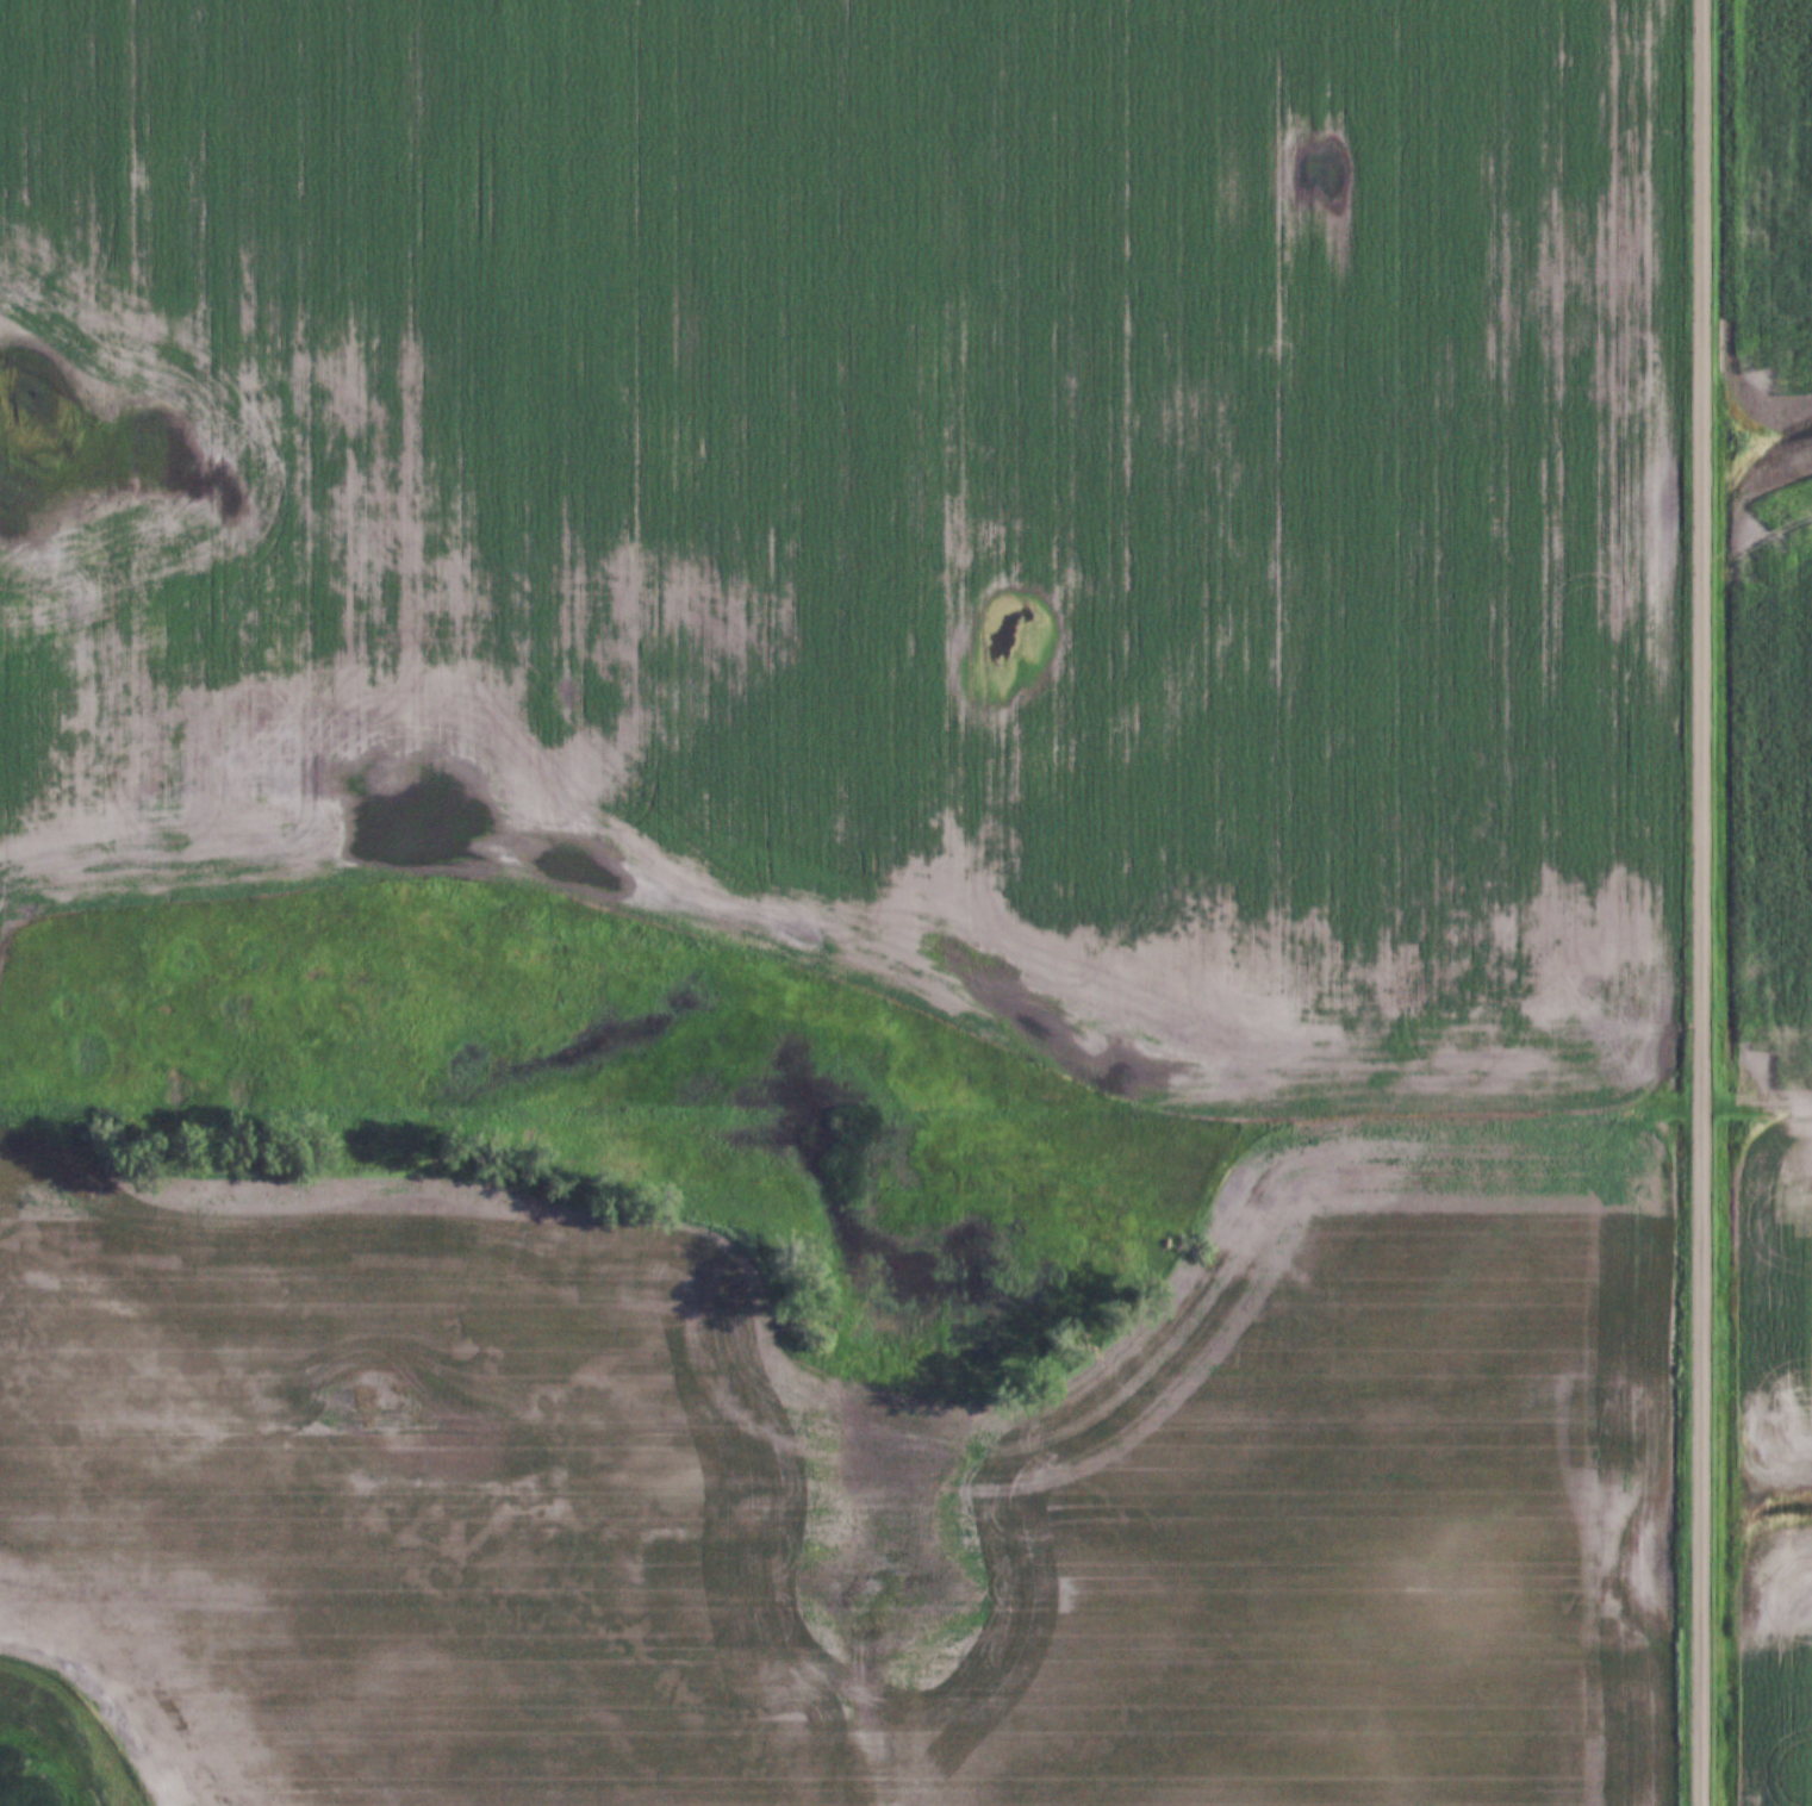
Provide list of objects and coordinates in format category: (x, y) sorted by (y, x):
road: (1699, 903)

